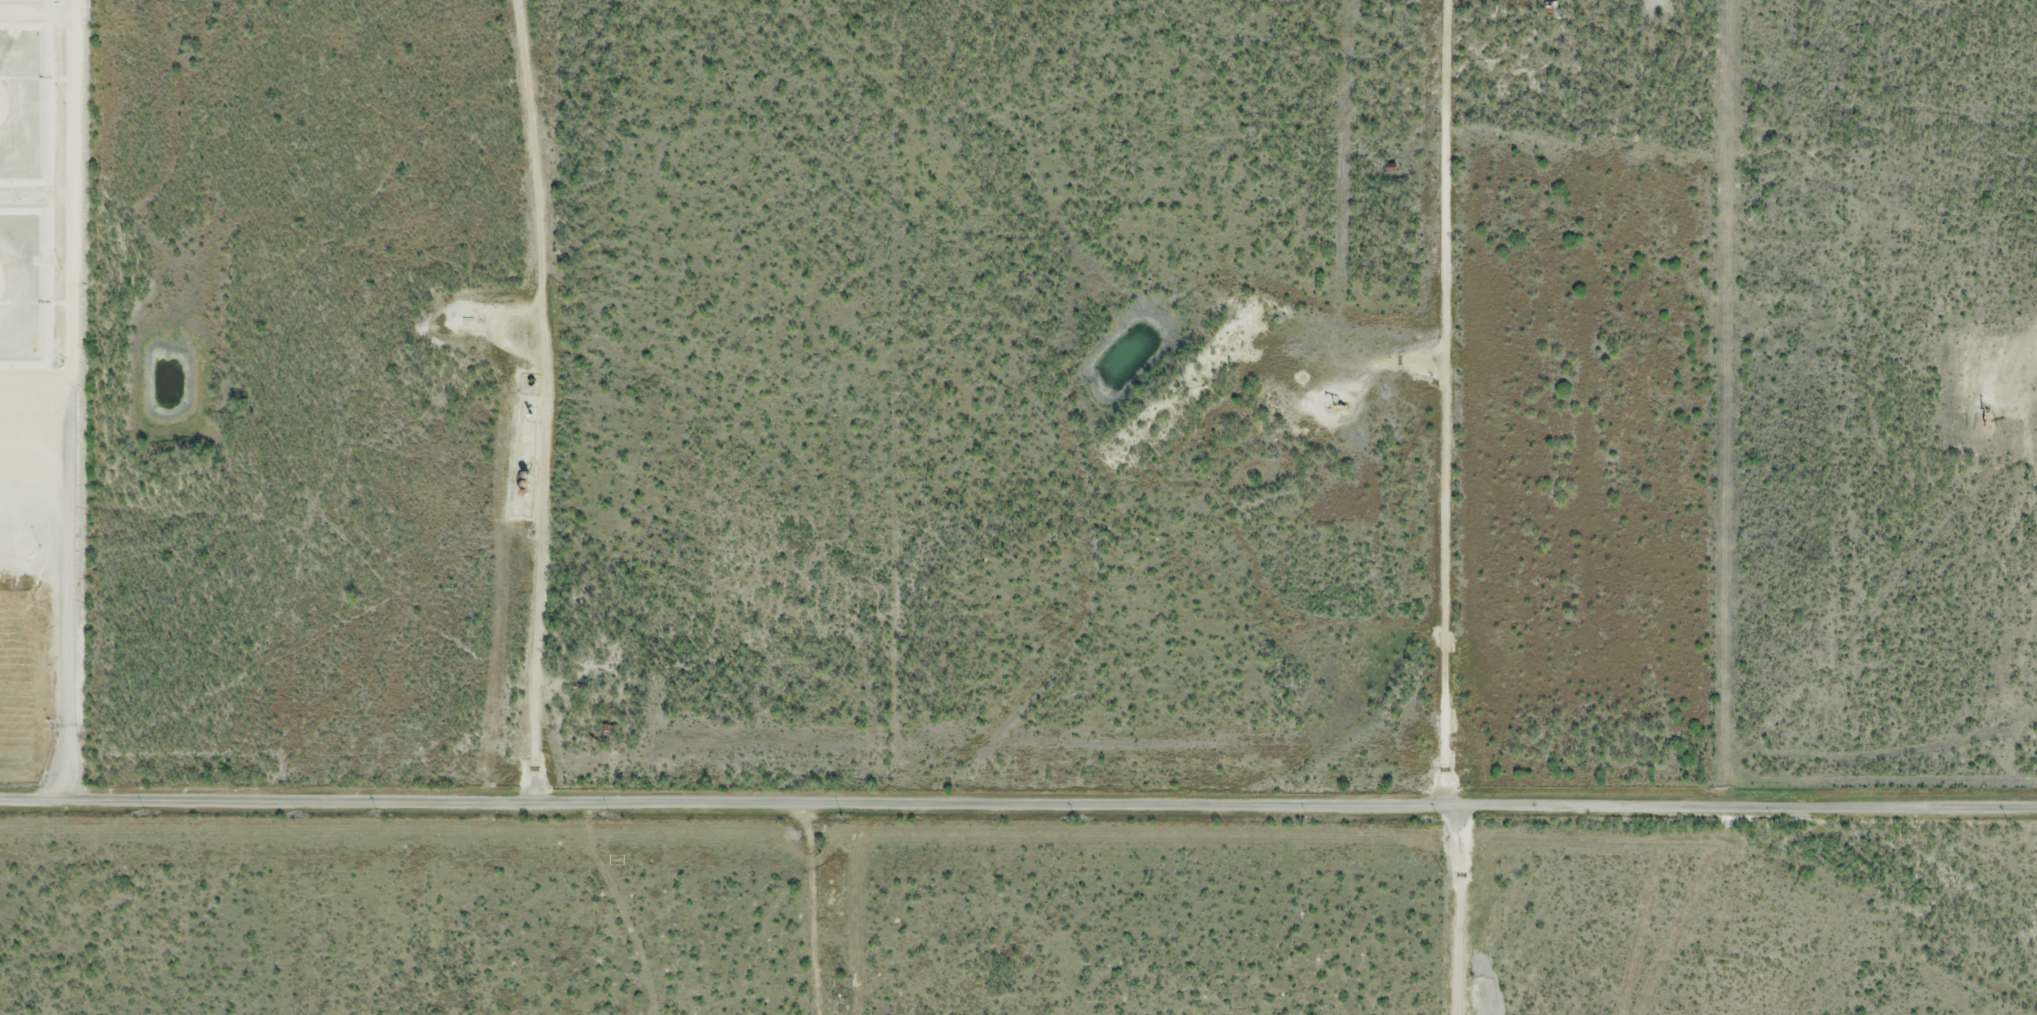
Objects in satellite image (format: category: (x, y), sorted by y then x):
road: (1444, 403)
road: (1018, 805)

